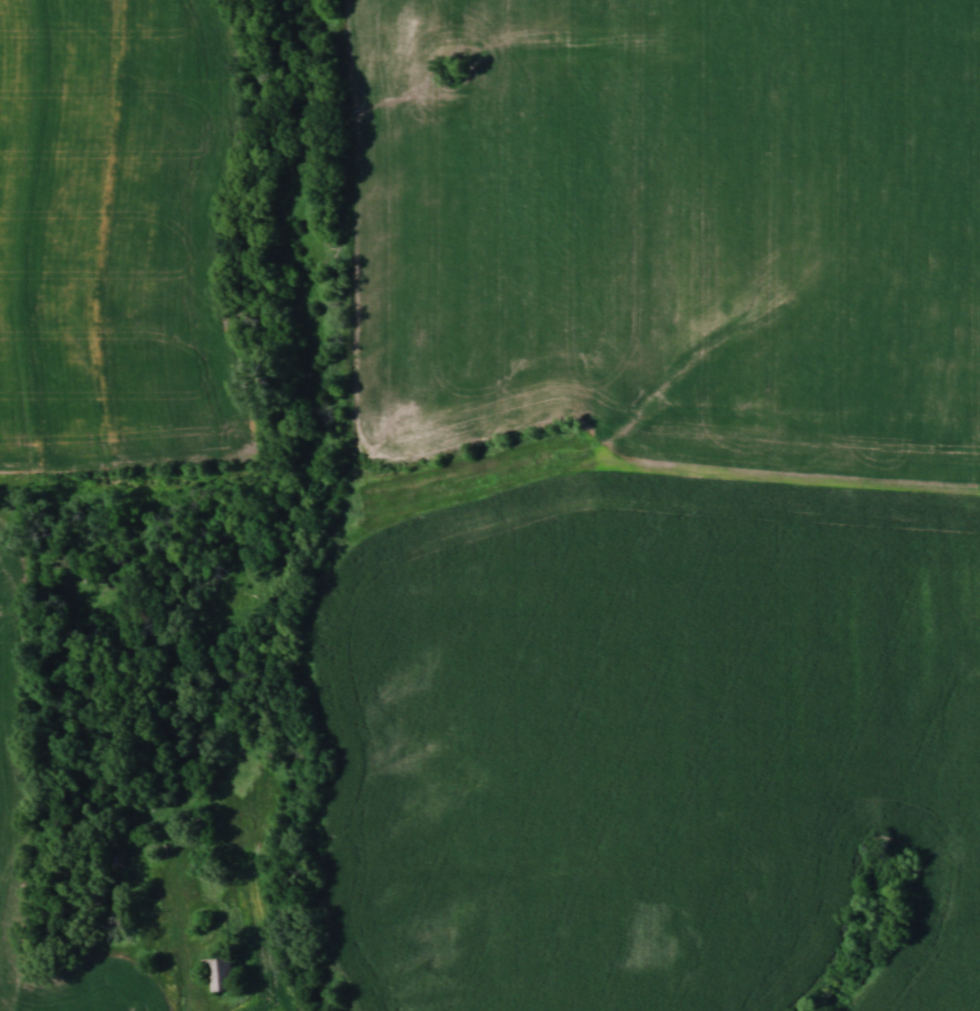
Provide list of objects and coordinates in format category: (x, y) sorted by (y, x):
building: (221, 972)

